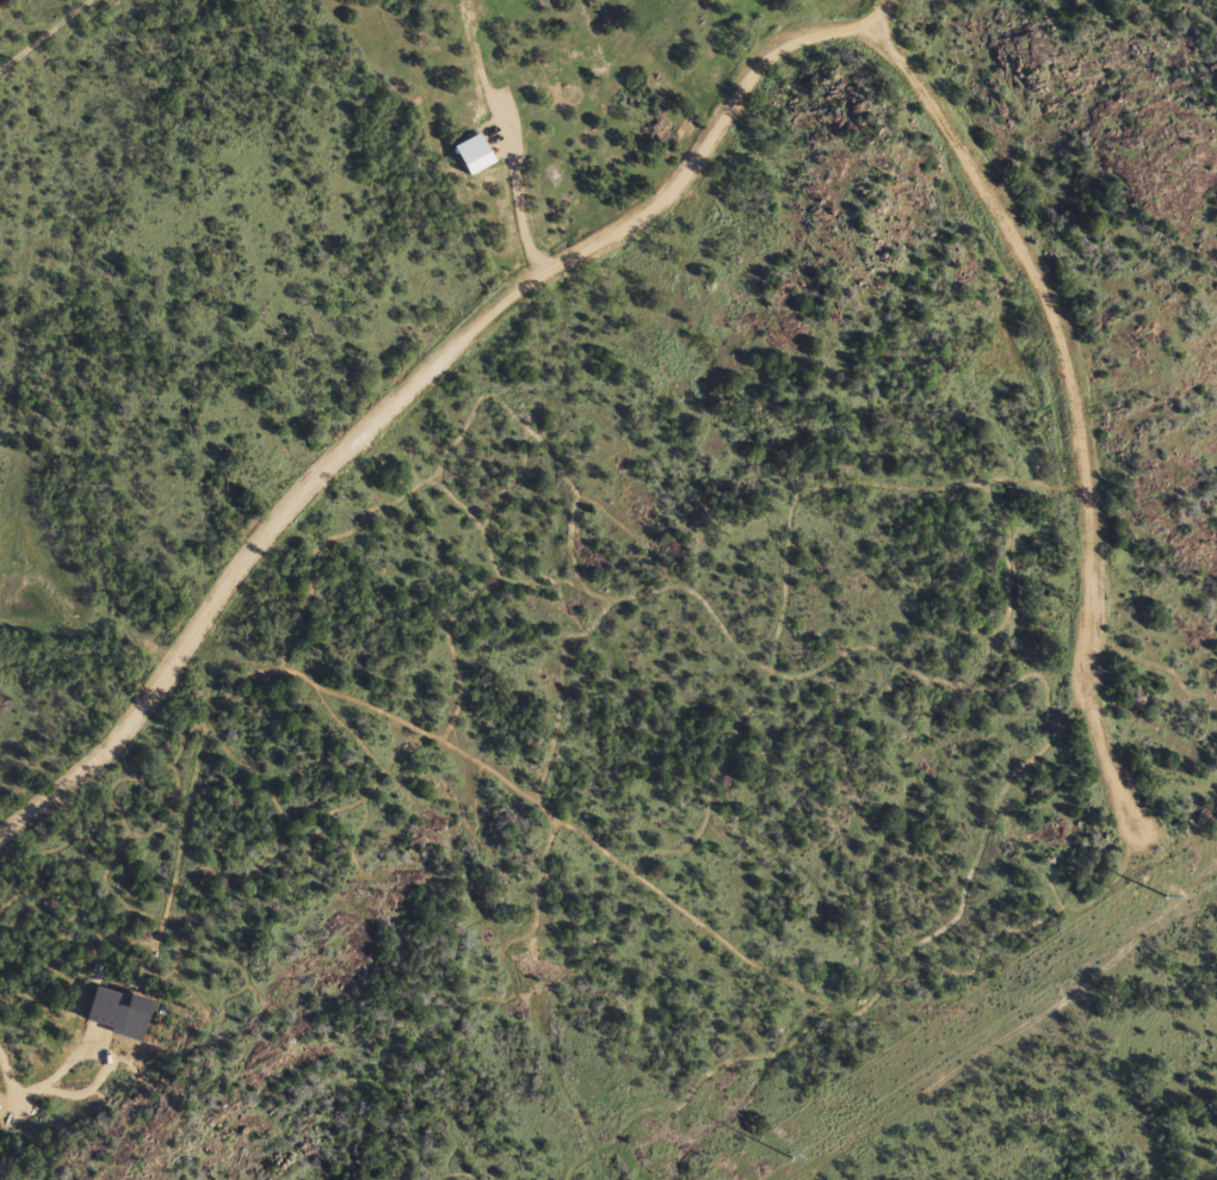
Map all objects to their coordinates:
road: (881, 16)
road: (908, 88)
road: (517, 204)
road: (866, 325)
road: (431, 351)
road: (1079, 483)
power tower: (1163, 894)
road: (1063, 997)
road: (42, 1083)
road: (852, 1133)
road: (935, 1133)
power tower: (791, 1155)

